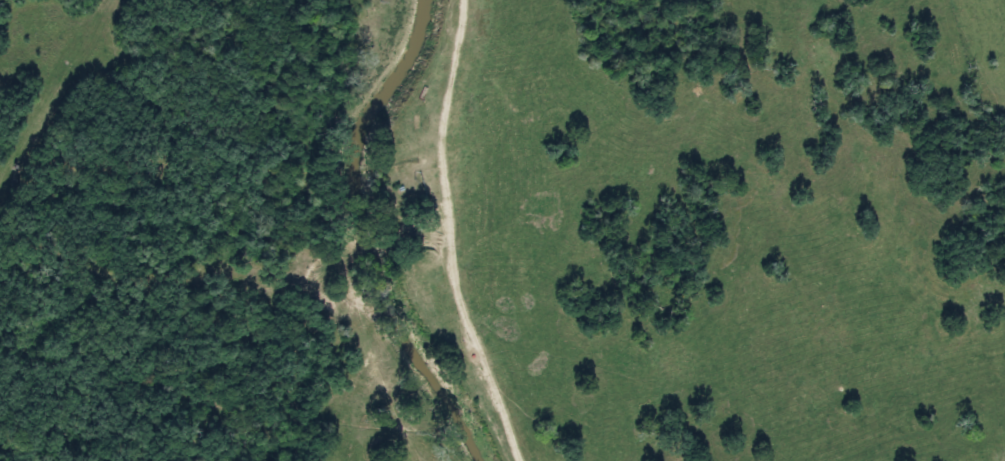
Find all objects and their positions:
road: (448, 235)

